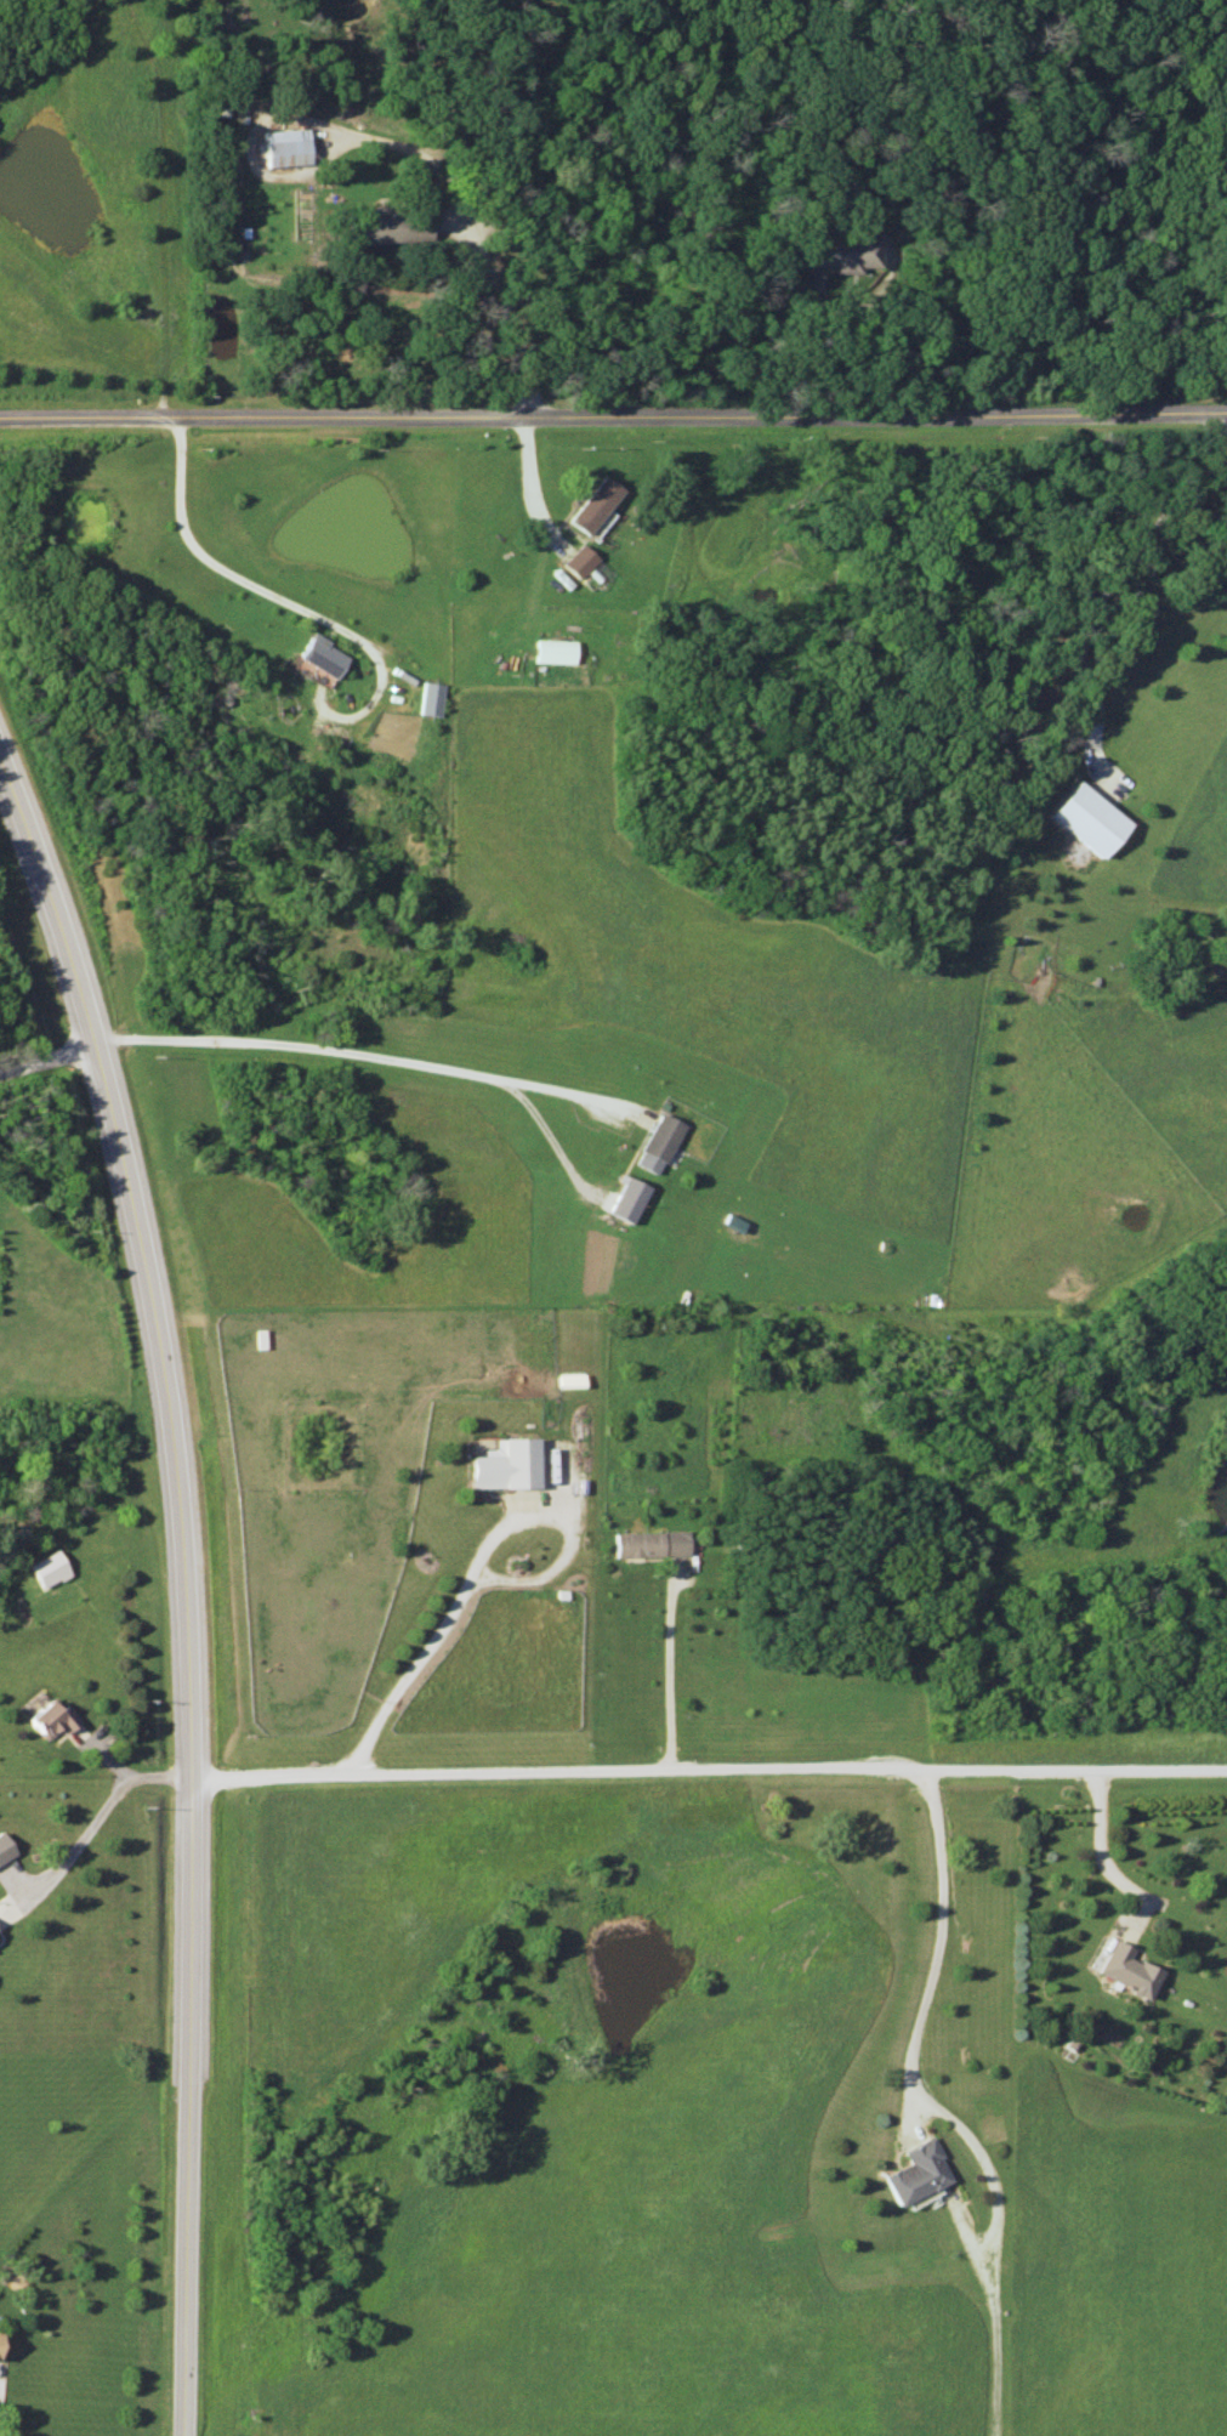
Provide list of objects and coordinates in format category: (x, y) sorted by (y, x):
building: (288, 147)
road: (161, 204)
building: (388, 228)
building: (840, 255)
road: (505, 310)
road: (613, 413)
road: (526, 475)
building: (593, 504)
building: (579, 561)
road: (1121, 566)
road: (257, 587)
building: (553, 652)
building: (325, 655)
building: (432, 699)
building: (1090, 820)
road: (346, 1050)
road: (46, 1056)
building: (657, 1143)
building: (505, 1465)
building: (644, 1545)
road: (181, 1599)
road: (434, 1637)
road: (665, 1676)
building: (47, 1720)
road: (709, 1768)
road: (95, 1812)
building: (4, 1847)
road: (1096, 1850)
road: (936, 1938)
building: (1129, 1969)
building: (916, 2171)

